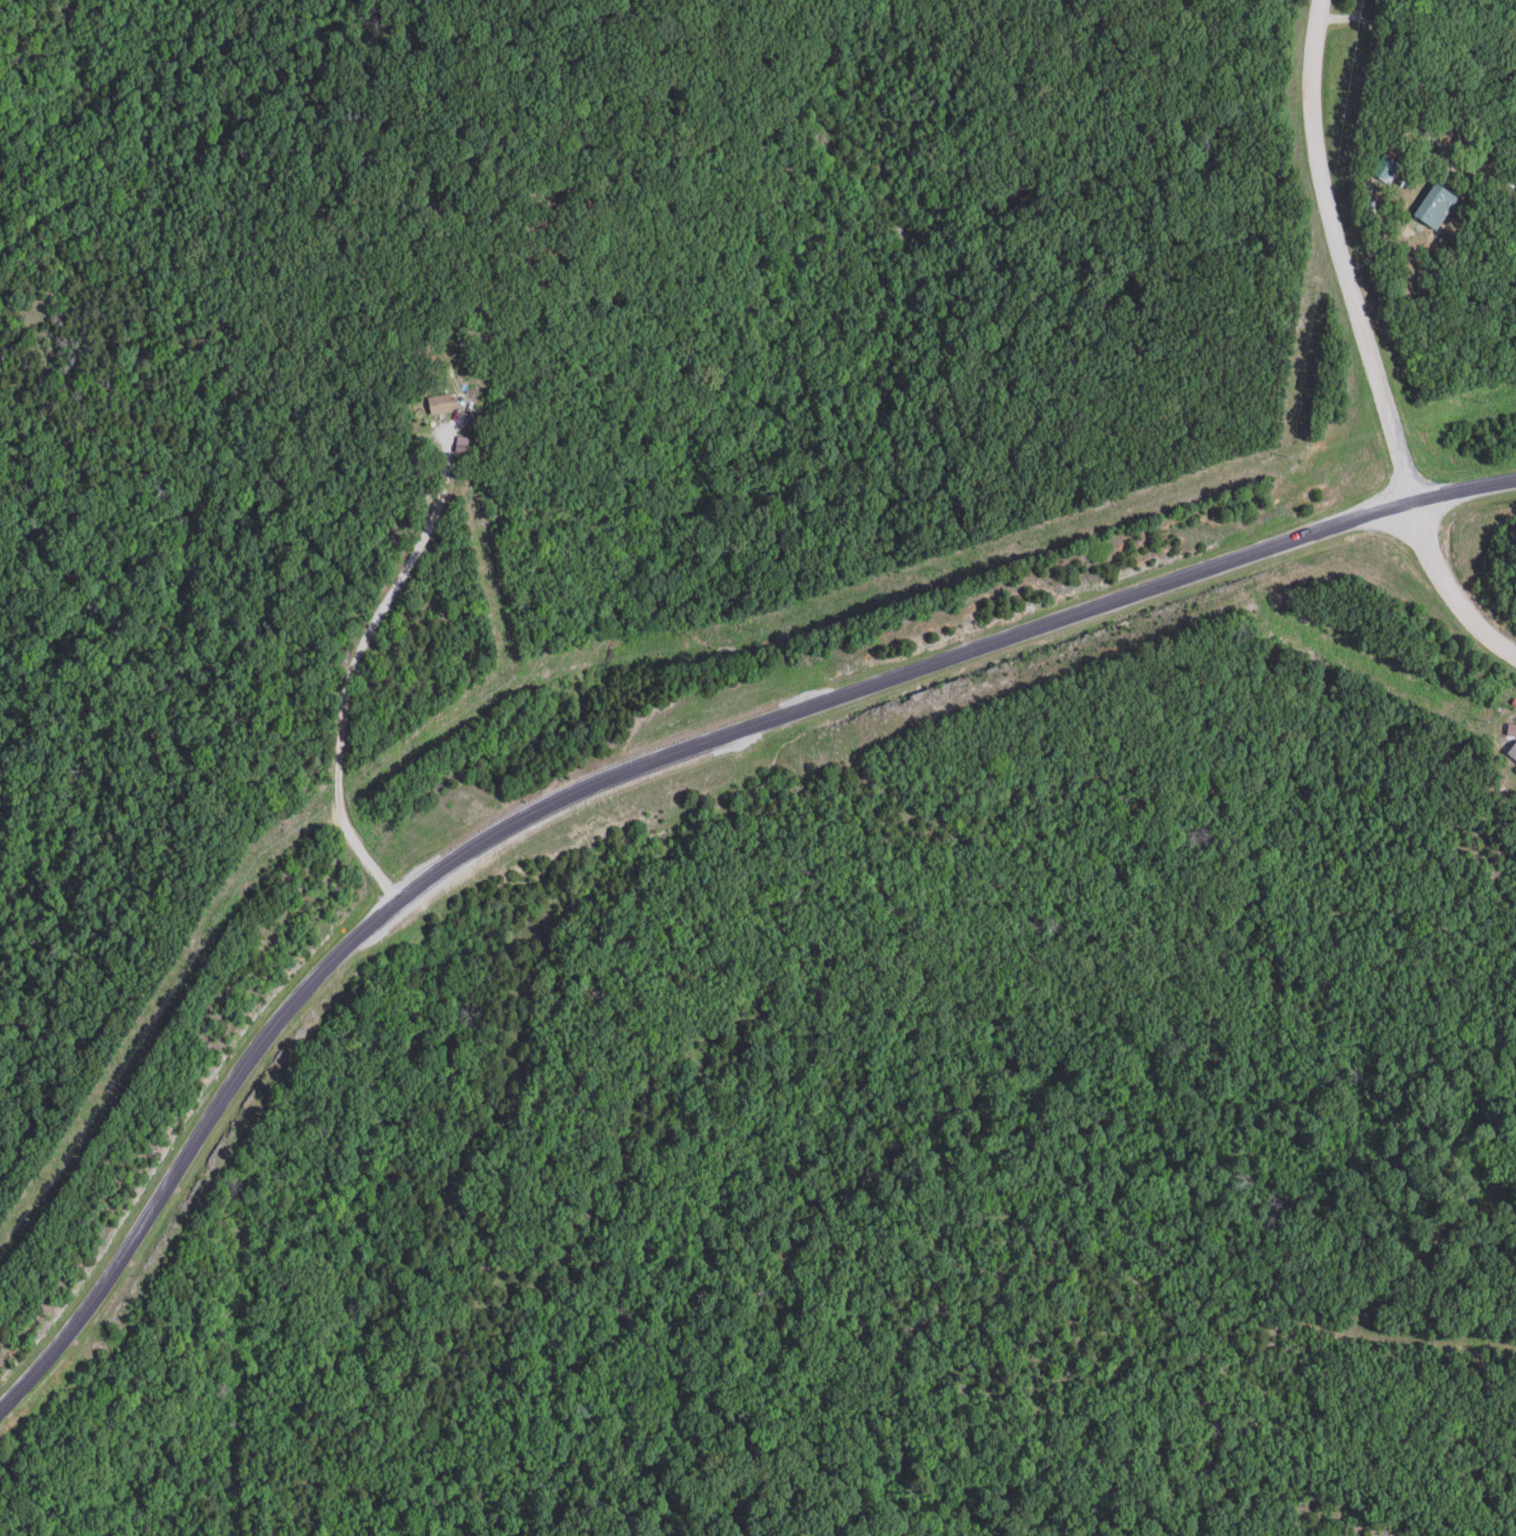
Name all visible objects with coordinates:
building: (1388, 169)
building: (1439, 207)
road: (1368, 343)
building: (443, 405)
road: (639, 767)

